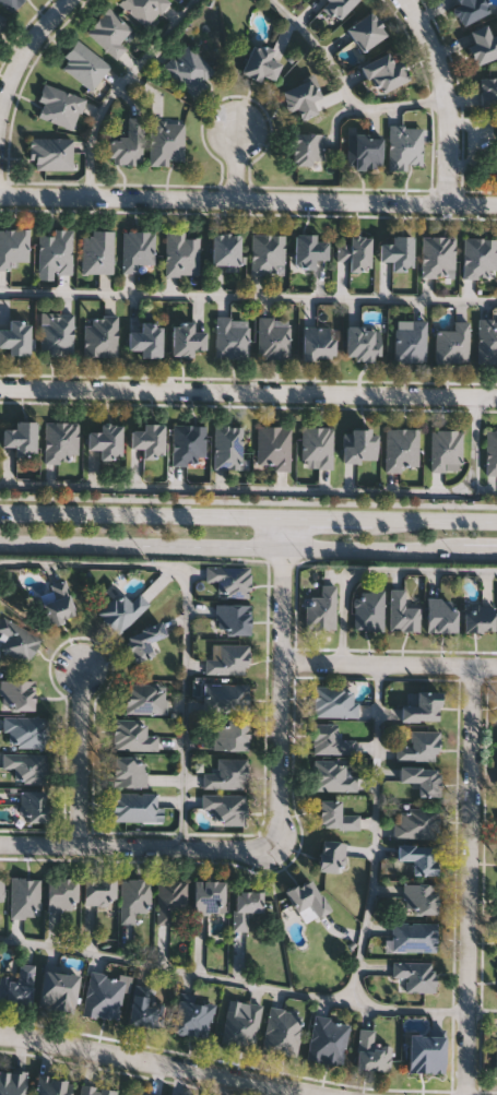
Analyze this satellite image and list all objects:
building: (10, 3)
building: (336, 8)
building: (143, 9)
building: (469, 10)
building: (2, 21)
building: (365, 31)
building: (108, 32)
building: (483, 44)
road: (20, 48)
building: (260, 64)
building: (83, 66)
building: (188, 71)
building: (383, 72)
road: (342, 85)
road: (116, 87)
building: (488, 92)
road: (445, 96)
building: (301, 98)
building: (58, 108)
building: (165, 143)
building: (127, 146)
building: (306, 148)
building: (405, 148)
building: (363, 151)
building: (50, 154)
road: (236, 164)
road: (248, 199)
building: (13, 247)
building: (137, 250)
building: (225, 250)
building: (307, 251)
building: (55, 252)
building: (96, 253)
building: (354, 253)
building: (180, 254)
building: (267, 254)
building: (398, 254)
building: (437, 258)
building: (478, 258)
road: (248, 295)
building: (56, 334)
building: (100, 336)
building: (15, 337)
building: (232, 338)
building: (272, 338)
building: (146, 340)
building: (186, 340)
building: (410, 341)
building: (486, 341)
building: (318, 344)
building: (363, 344)
building: (451, 344)
road: (248, 393)
building: (21, 439)
building: (149, 440)
building: (61, 441)
building: (106, 442)
building: (188, 443)
building: (317, 445)
building: (358, 445)
building: (227, 447)
building: (273, 448)
building: (401, 450)
building: (446, 450)
building: (490, 452)
road: (277, 488)
road: (248, 501)
road: (248, 514)
road: (232, 544)
road: (481, 549)
road: (380, 569)
building: (230, 579)
building: (58, 603)
building: (321, 607)
building: (369, 608)
building: (122, 609)
building: (401, 610)
building: (441, 614)
road: (187, 617)
building: (478, 617)
building: (233, 618)
building: (17, 640)
building: (143, 640)
building: (228, 658)
road: (390, 663)
road: (283, 677)
building: (16, 693)
building: (225, 695)
building: (145, 698)
building: (334, 700)
building: (422, 705)
building: (25, 730)
building: (131, 734)
building: (230, 734)
building: (330, 739)
building: (419, 746)
road: (81, 755)
building: (26, 765)
building: (128, 771)
building: (226, 773)
building: (334, 774)
building: (422, 778)
building: (33, 805)
building: (134, 806)
building: (225, 807)
building: (335, 814)
building: (416, 822)
road: (376, 833)
road: (137, 845)
building: (331, 855)
building: (419, 856)
road: (471, 879)
building: (1, 888)
building: (99, 890)
building: (61, 892)
building: (209, 895)
building: (307, 895)
building: (24, 896)
building: (421, 896)
building: (133, 897)
building: (170, 897)
building: (245, 905)
building: (413, 936)
road: (176, 968)
building: (415, 974)
building: (17, 985)
building: (58, 989)
building: (103, 993)
road: (410, 1008)
building: (146, 1009)
road: (483, 1010)
building: (192, 1016)
building: (241, 1024)
building: (281, 1029)
building: (327, 1038)
building: (370, 1050)
building: (426, 1052)
building: (496, 1058)
road: (162, 1064)
building: (12, 1082)
building: (51, 1085)
building: (95, 1090)
building: (140, 1093)

